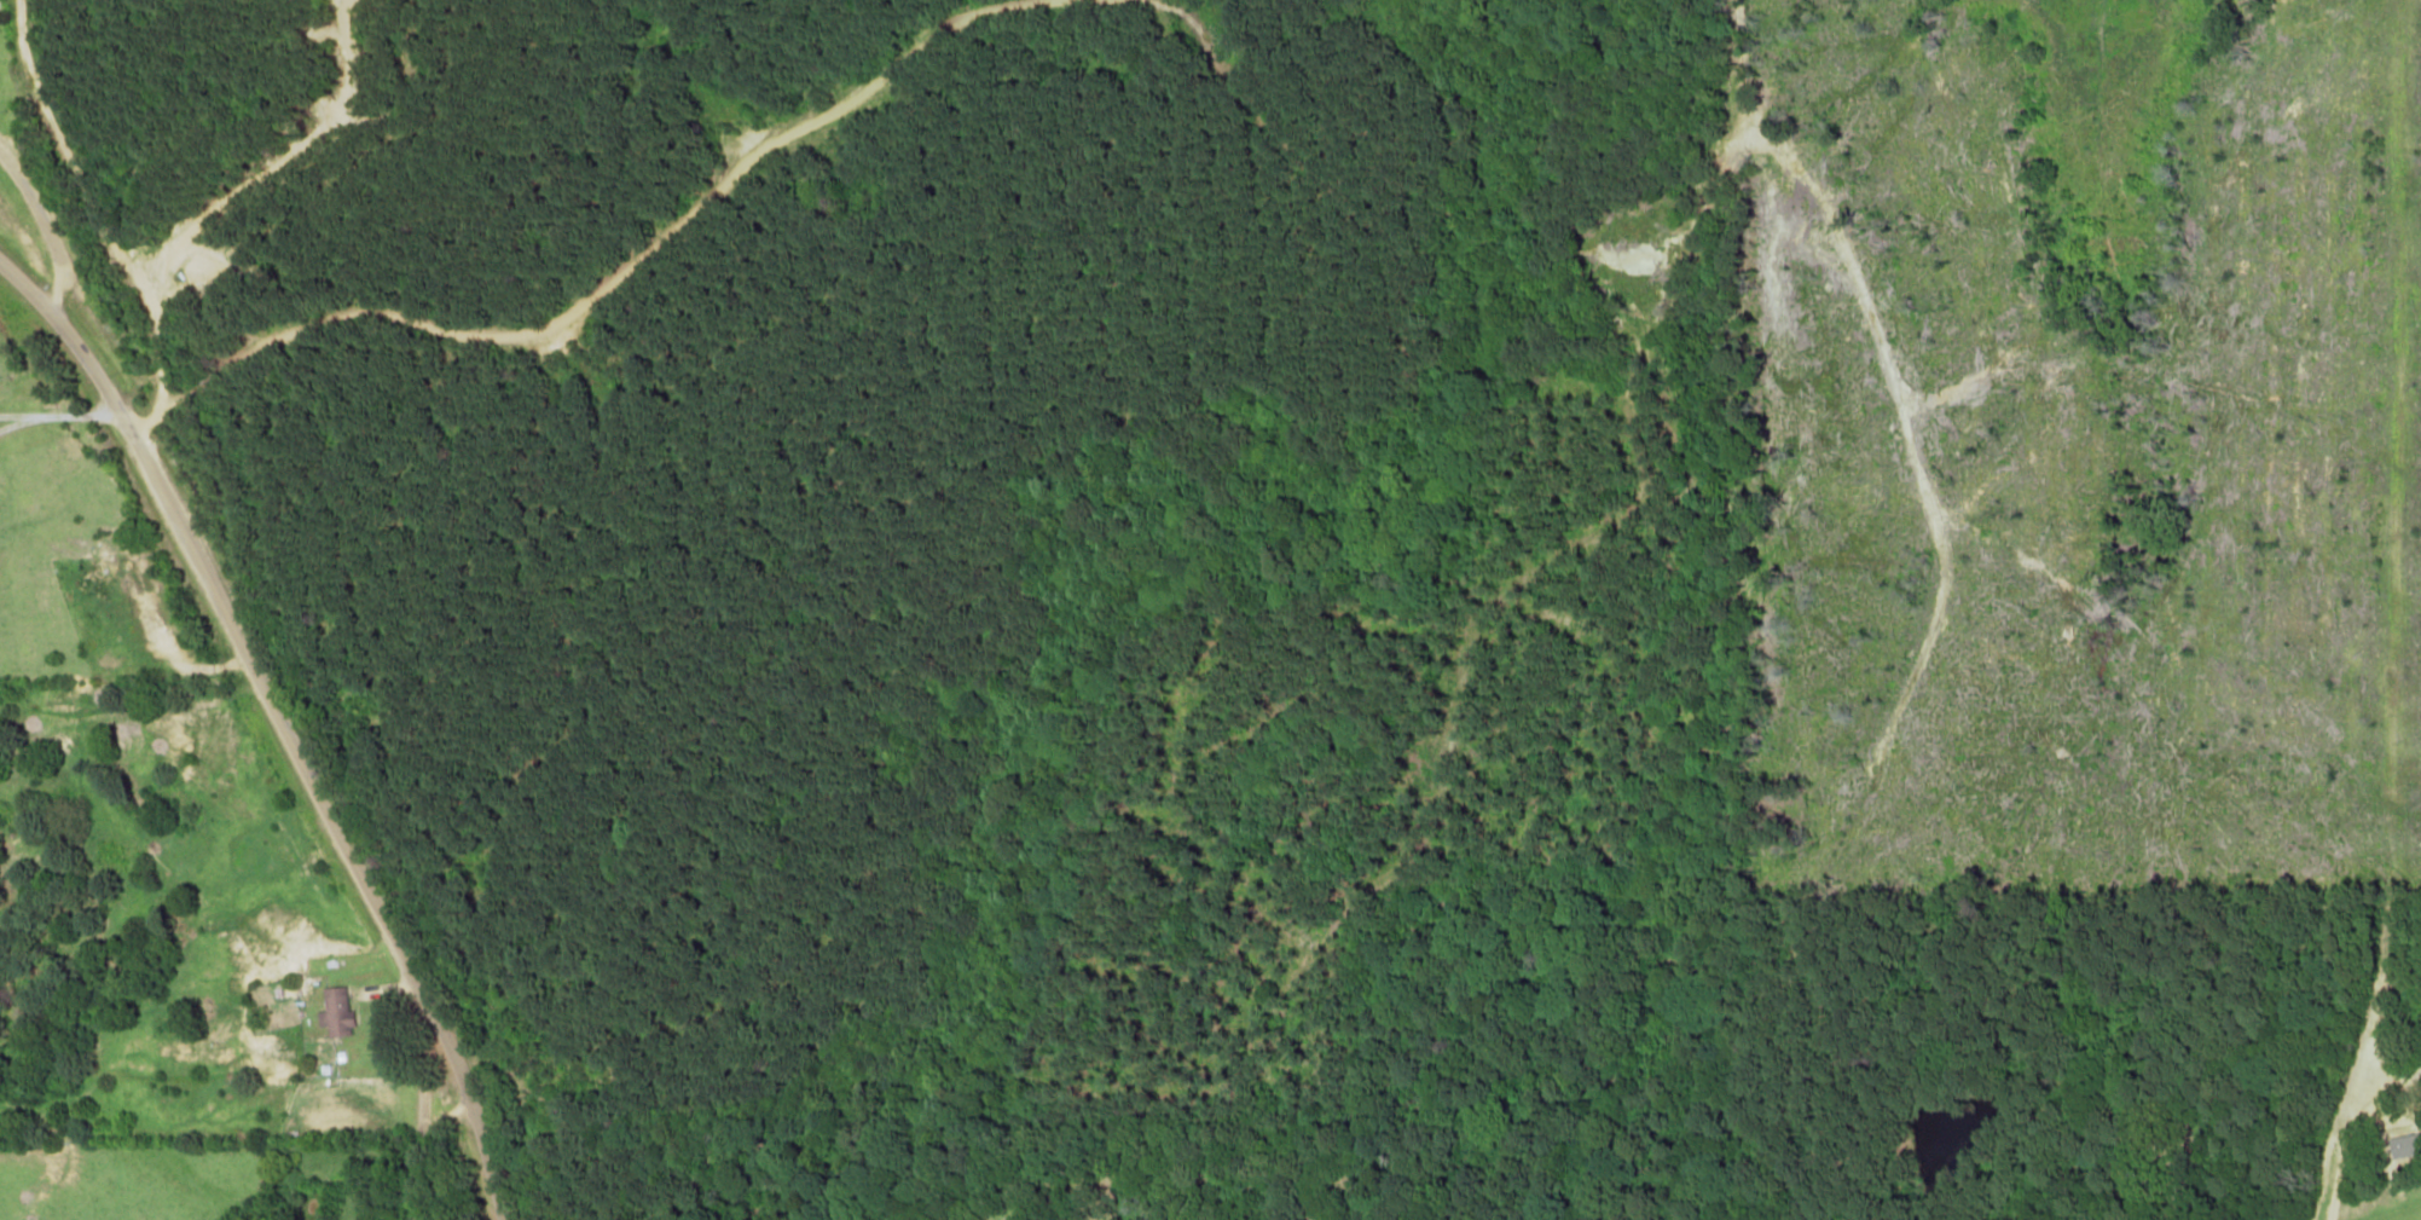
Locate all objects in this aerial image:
building: (100, 579)
road: (285, 719)
building: (341, 1012)

